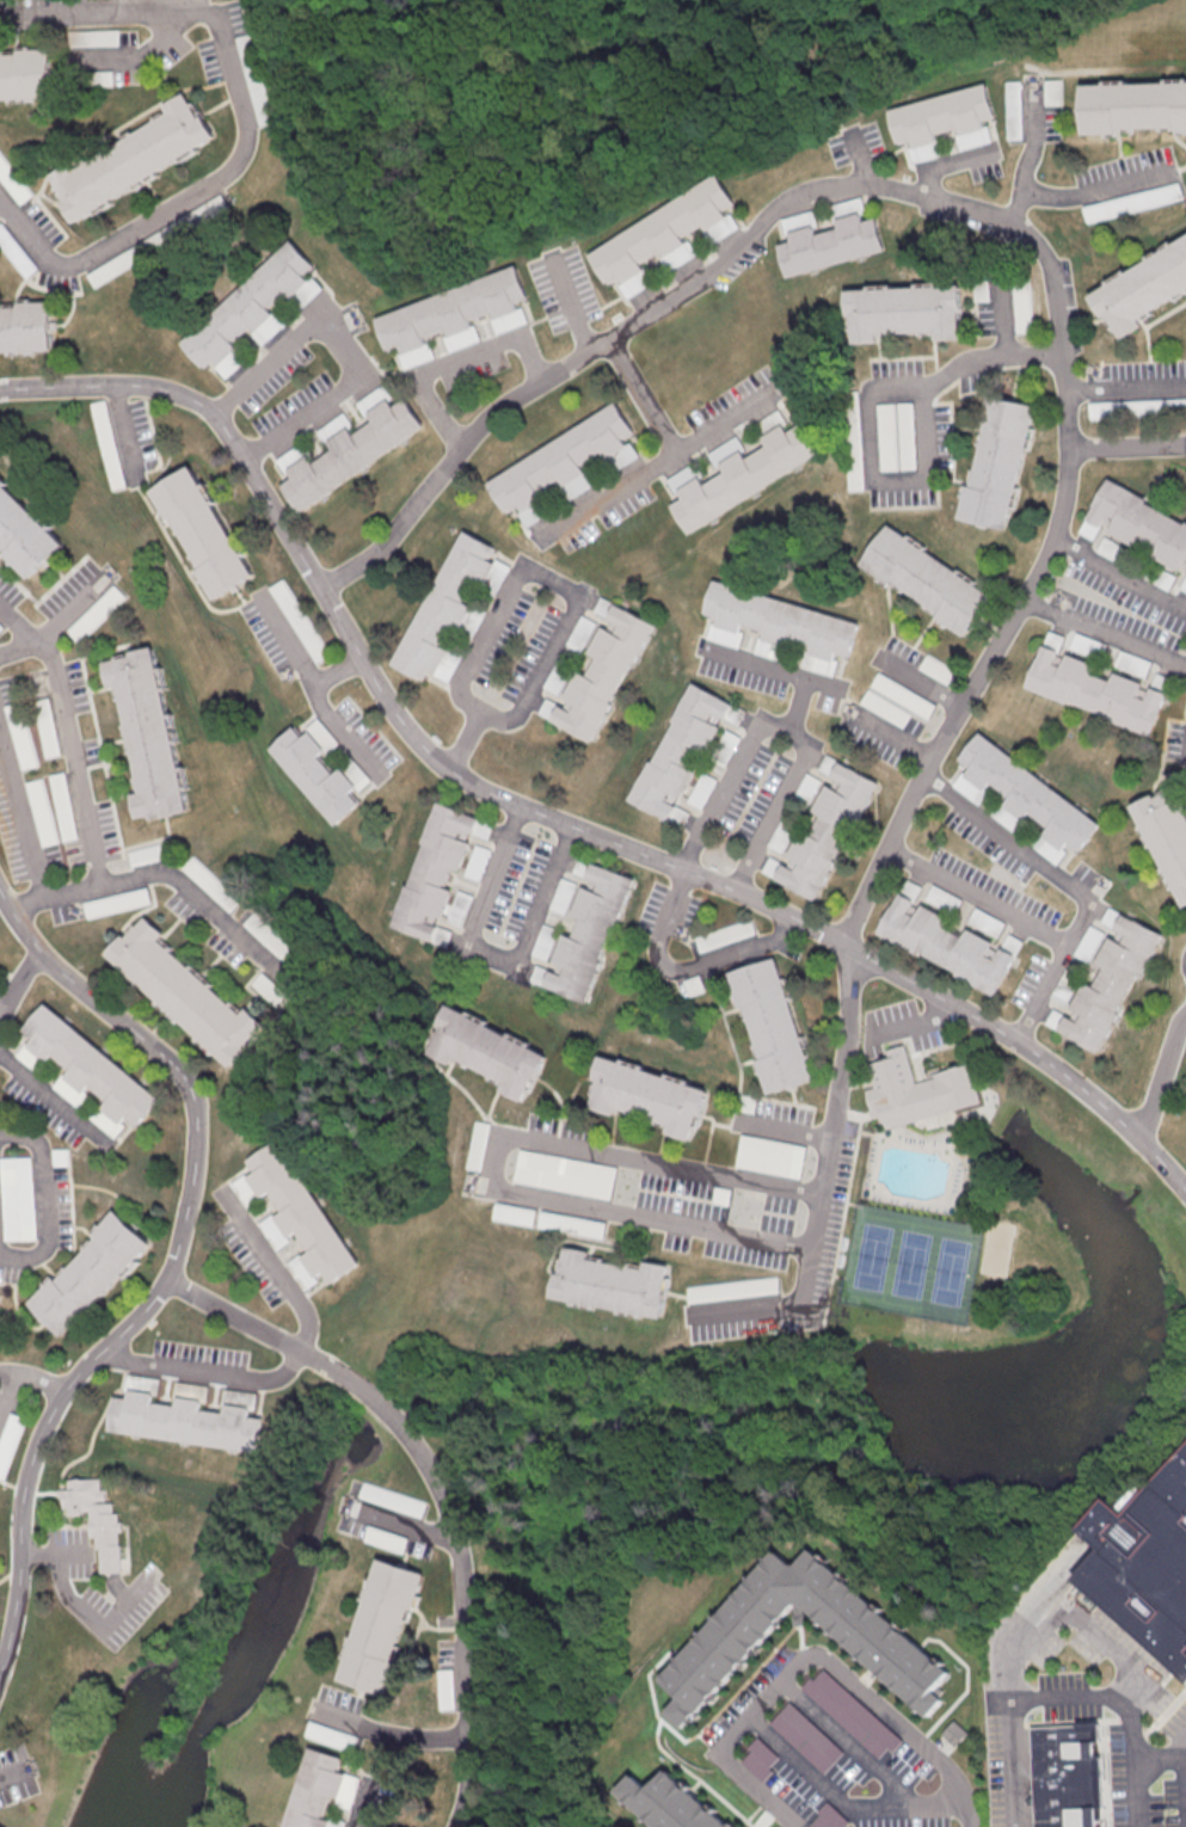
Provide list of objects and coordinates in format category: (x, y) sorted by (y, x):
building: (94, 37)
road: (136, 63)
building: (27, 73)
building: (1053, 92)
building: (1132, 105)
building: (1014, 109)
building: (942, 115)
road: (246, 130)
road: (1038, 141)
building: (131, 156)
road: (860, 159)
road: (951, 164)
building: (2, 165)
road: (1086, 192)
building: (1132, 202)
building: (720, 228)
building: (659, 230)
building: (831, 244)
building: (19, 259)
building: (1142, 287)
building: (247, 302)
road: (572, 308)
building: (451, 309)
building: (903, 309)
road: (1003, 314)
building: (26, 326)
road: (505, 340)
road: (349, 349)
road: (1069, 357)
road: (993, 359)
building: (228, 363)
road: (1127, 382)
road: (643, 398)
building: (1169, 406)
road: (209, 411)
road: (125, 433)
building: (904, 435)
building: (885, 436)
building: (105, 444)
road: (1129, 450)
building: (350, 453)
building: (291, 456)
building: (561, 460)
building: (994, 461)
road: (659, 465)
building: (741, 476)
road: (923, 493)
building: (1139, 521)
building: (199, 531)
building: (23, 536)
road: (534, 570)
road: (1123, 573)
building: (923, 580)
building: (445, 604)
road: (72, 613)
building: (91, 613)
building: (779, 619)
building: (300, 621)
road: (344, 622)
road: (19, 626)
road: (1107, 632)
road: (287, 638)
road: (19, 651)
road: (338, 669)
building: (603, 672)
road: (778, 672)
road: (924, 682)
building: (1096, 689)
building: (893, 700)
road: (801, 709)
building: (42, 726)
road: (344, 730)
building: (143, 733)
road: (788, 733)
building: (17, 734)
road: (898, 736)
building: (680, 749)
road: (1185, 751)
road: (73, 764)
building: (314, 774)
building: (1026, 794)
building: (60, 805)
building: (38, 811)
road: (23, 820)
building: (828, 830)
building: (1166, 831)
building: (142, 853)
building: (434, 871)
road: (167, 876)
building: (208, 882)
road: (1075, 888)
road: (984, 899)
building: (116, 900)
road: (774, 908)
building: (590, 933)
building: (726, 934)
building: (266, 935)
building: (946, 943)
road: (494, 952)
road: (689, 973)
road: (18, 982)
building: (1110, 982)
building: (183, 992)
road: (1, 1004)
building: (770, 1026)
road: (915, 1026)
building: (485, 1050)
building: (88, 1065)
road: (1165, 1083)
building: (916, 1090)
building: (645, 1095)
road: (55, 1100)
road: (787, 1134)
building: (475, 1145)
building: (770, 1156)
road: (657, 1167)
building: (563, 1174)
building: (16, 1198)
road: (45, 1204)
building: (300, 1211)
building: (514, 1213)
road: (646, 1222)
building: (571, 1224)
park: (998, 1248)
road: (172, 1259)
park: (911, 1263)
building: (88, 1271)
building: (612, 1284)
building: (732, 1288)
road: (752, 1317)
road: (294, 1362)
road: (32, 1377)
road: (6, 1389)
building: (188, 1421)
building: (10, 1440)
road: (438, 1484)
building: (395, 1499)
building: (98, 1521)
road: (401, 1521)
building: (387, 1538)
road: (57, 1554)
building: (1144, 1565)
road: (1068, 1604)
road: (96, 1622)
building: (385, 1626)
building: (873, 1636)
parking lot: (1104, 1667)
road: (1067, 1694)
building: (848, 1712)
building: (321, 1731)
road: (389, 1731)
building: (951, 1733)
building: (804, 1736)
road: (911, 1736)
road: (735, 1737)
road: (1175, 1742)
road: (852, 1749)
road: (1156, 1754)
building: (757, 1759)
road: (16, 1771)
road: (1185, 1771)
building: (1064, 1777)
parking lot: (1006, 1779)
parking lot: (1141, 1784)
building: (318, 1789)
building: (669, 1803)
road: (367, 1804)
road: (843, 1808)
building: (826, 1817)
building: (0, 1826)

